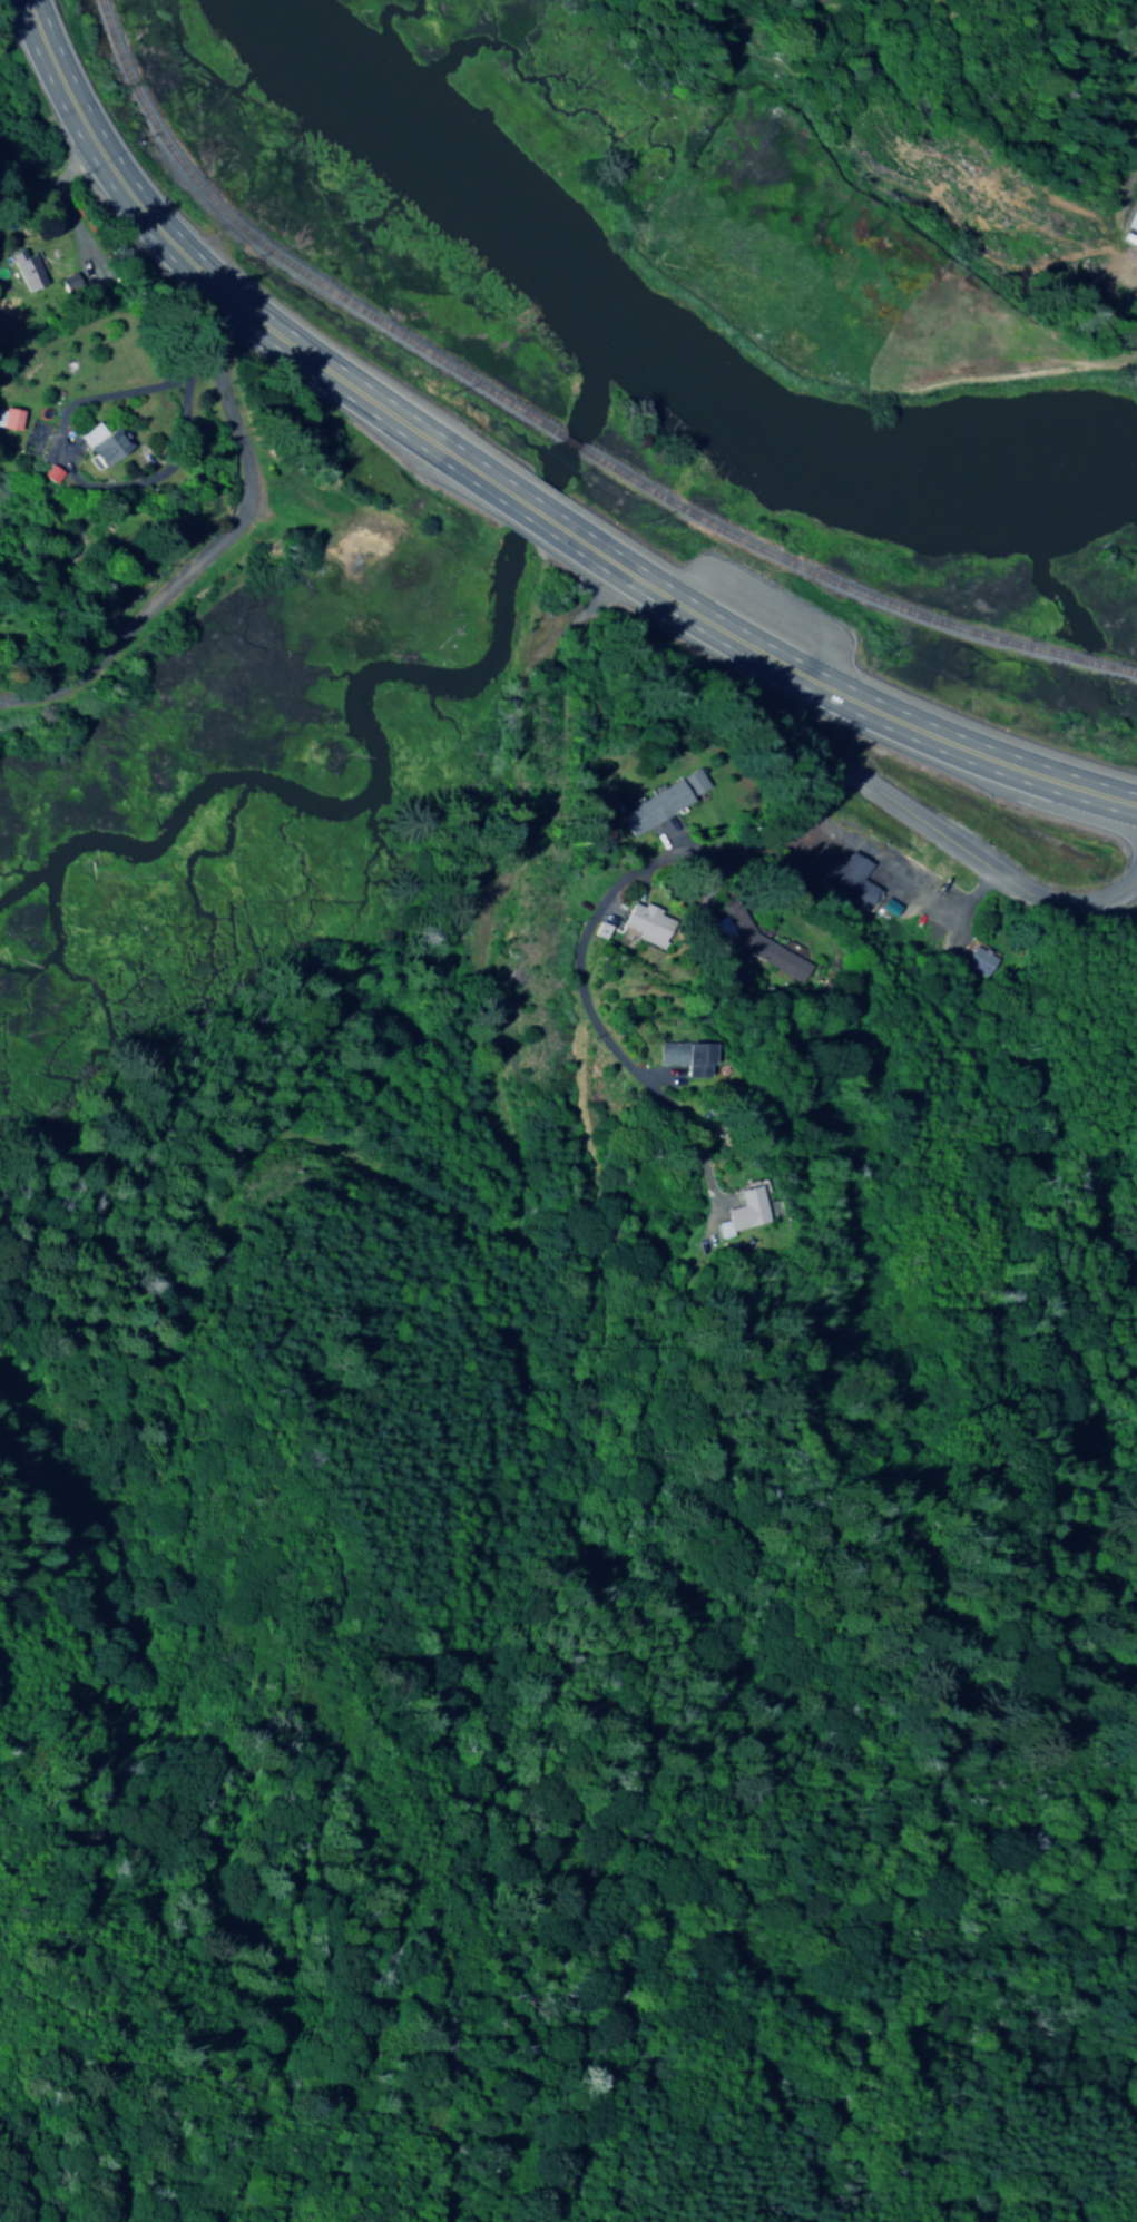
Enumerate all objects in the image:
road: (52, 182)
building: (1131, 219)
railway: (280, 260)
building: (23, 270)
road: (222, 286)
river: (650, 352)
building: (8, 419)
building: (99, 443)
railway: (560, 456)
building: (47, 474)
road: (543, 513)
road: (212, 546)
railway: (845, 605)
road: (846, 695)
building: (660, 802)
road: (770, 845)
building: (839, 878)
building: (645, 924)
building: (752, 943)
building: (978, 961)
building: (683, 1057)
building: (741, 1212)
road: (874, 1308)

